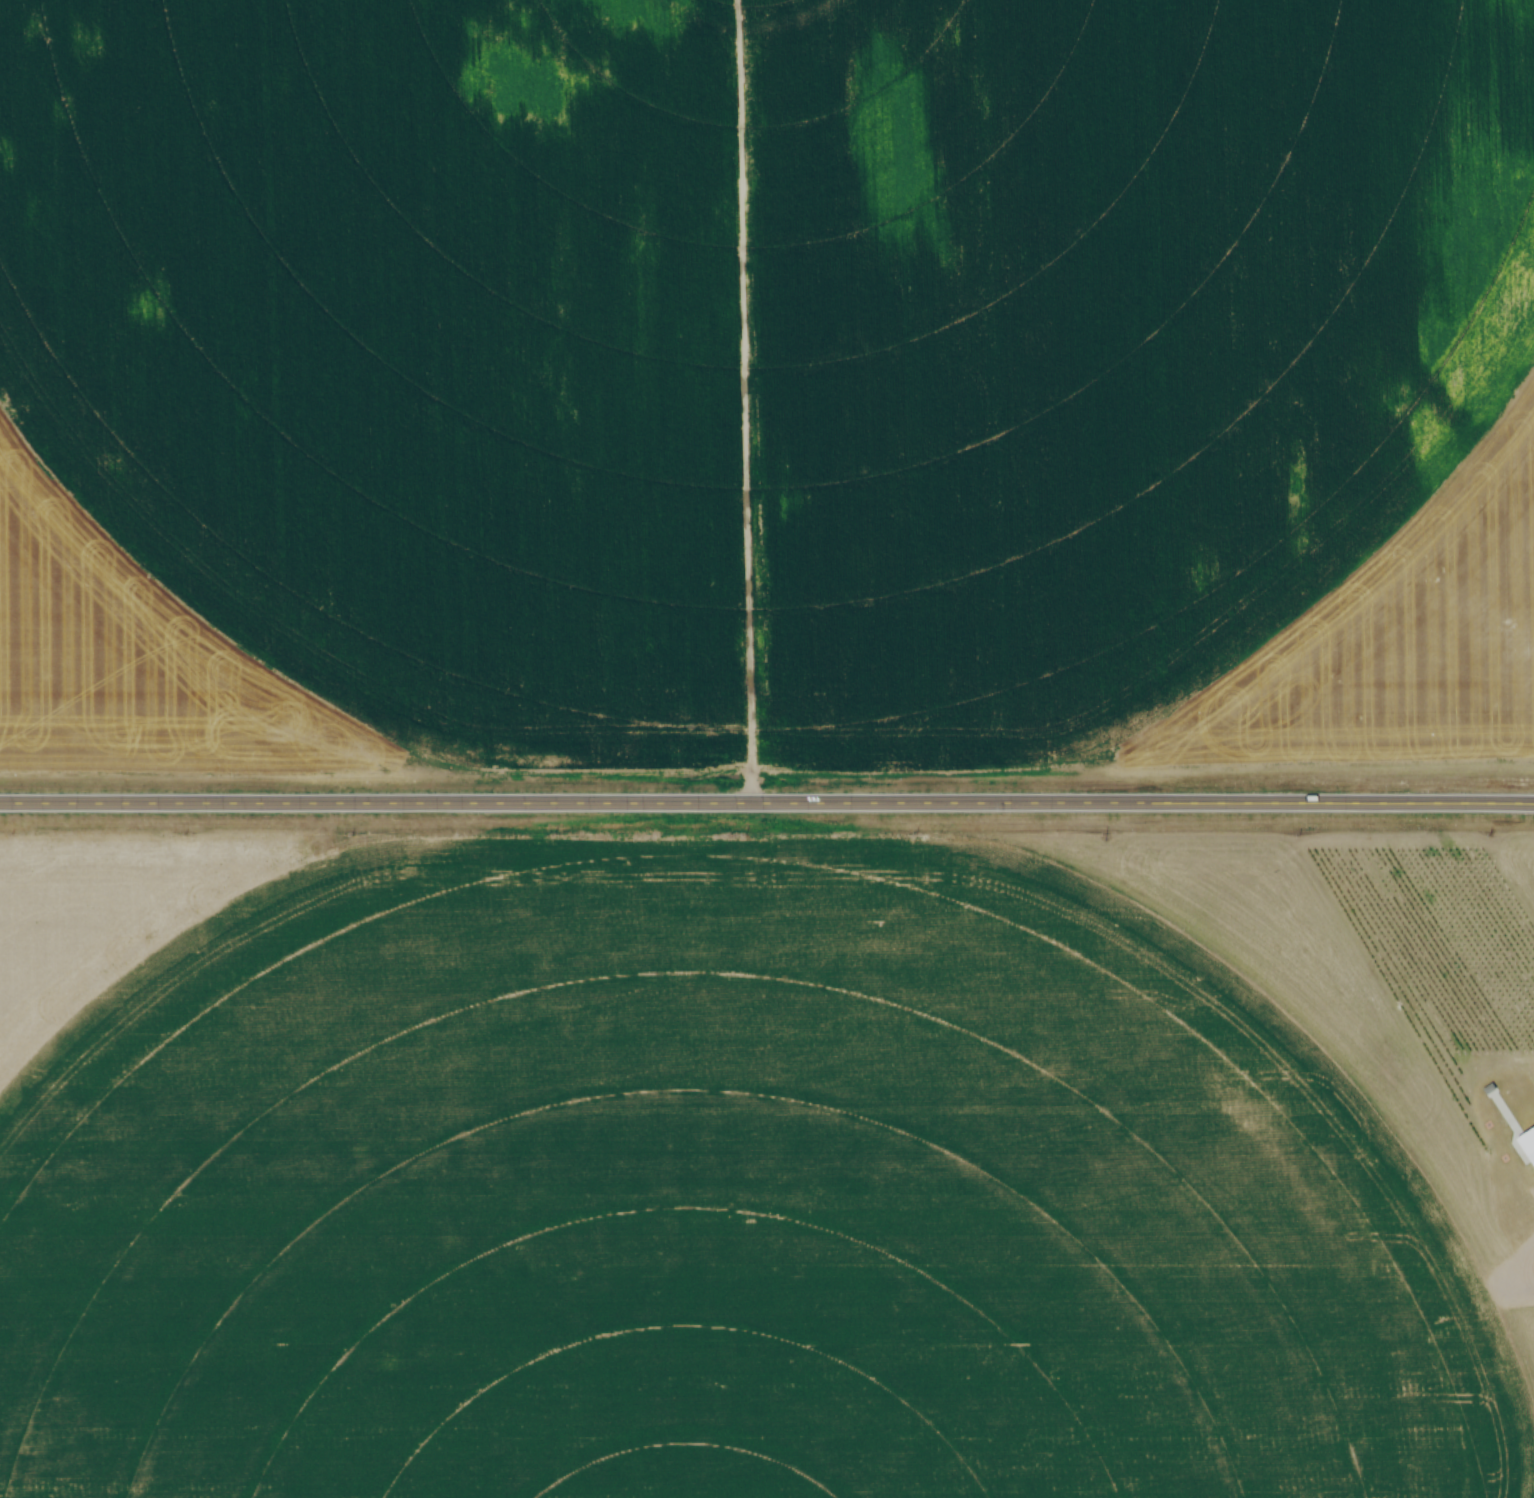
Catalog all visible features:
road: (767, 802)

